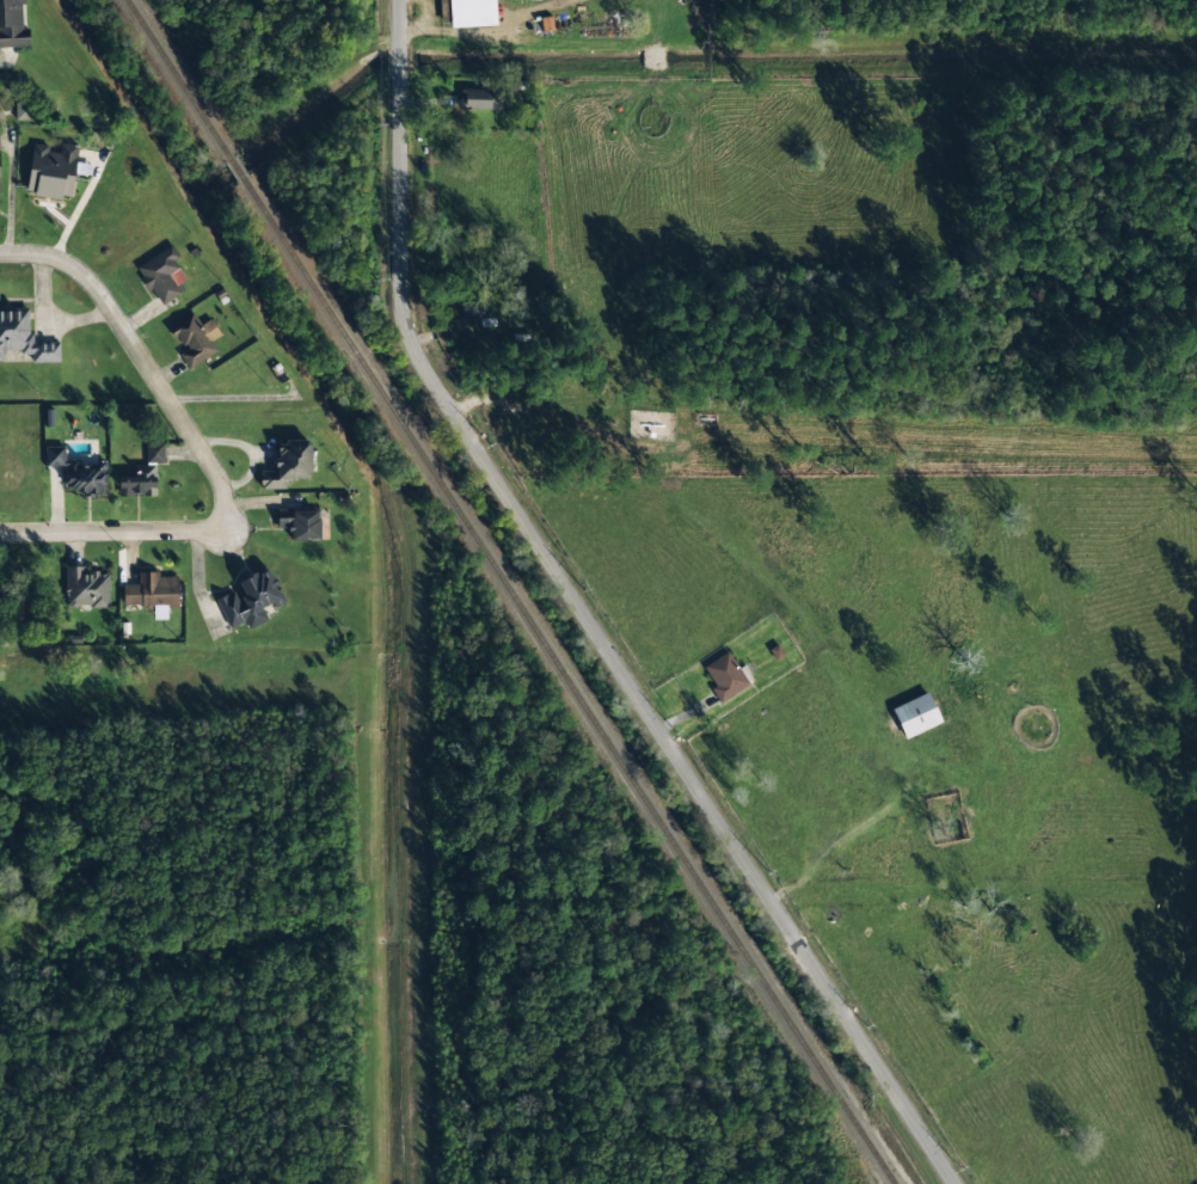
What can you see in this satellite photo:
building: (472, 13)
road: (398, 22)
building: (12, 25)
road: (398, 57)
railway: (177, 78)
building: (479, 99)
building: (24, 111)
railway: (235, 168)
building: (53, 170)
building: (162, 276)
building: (469, 305)
building: (23, 337)
building: (195, 339)
road: (142, 361)
building: (154, 453)
building: (288, 465)
building: (75, 472)
building: (137, 481)
building: (300, 524)
road: (111, 532)
building: (86, 588)
building: (152, 594)
building: (250, 600)
road: (604, 650)
building: (725, 676)
railway: (567, 682)
building: (915, 716)

